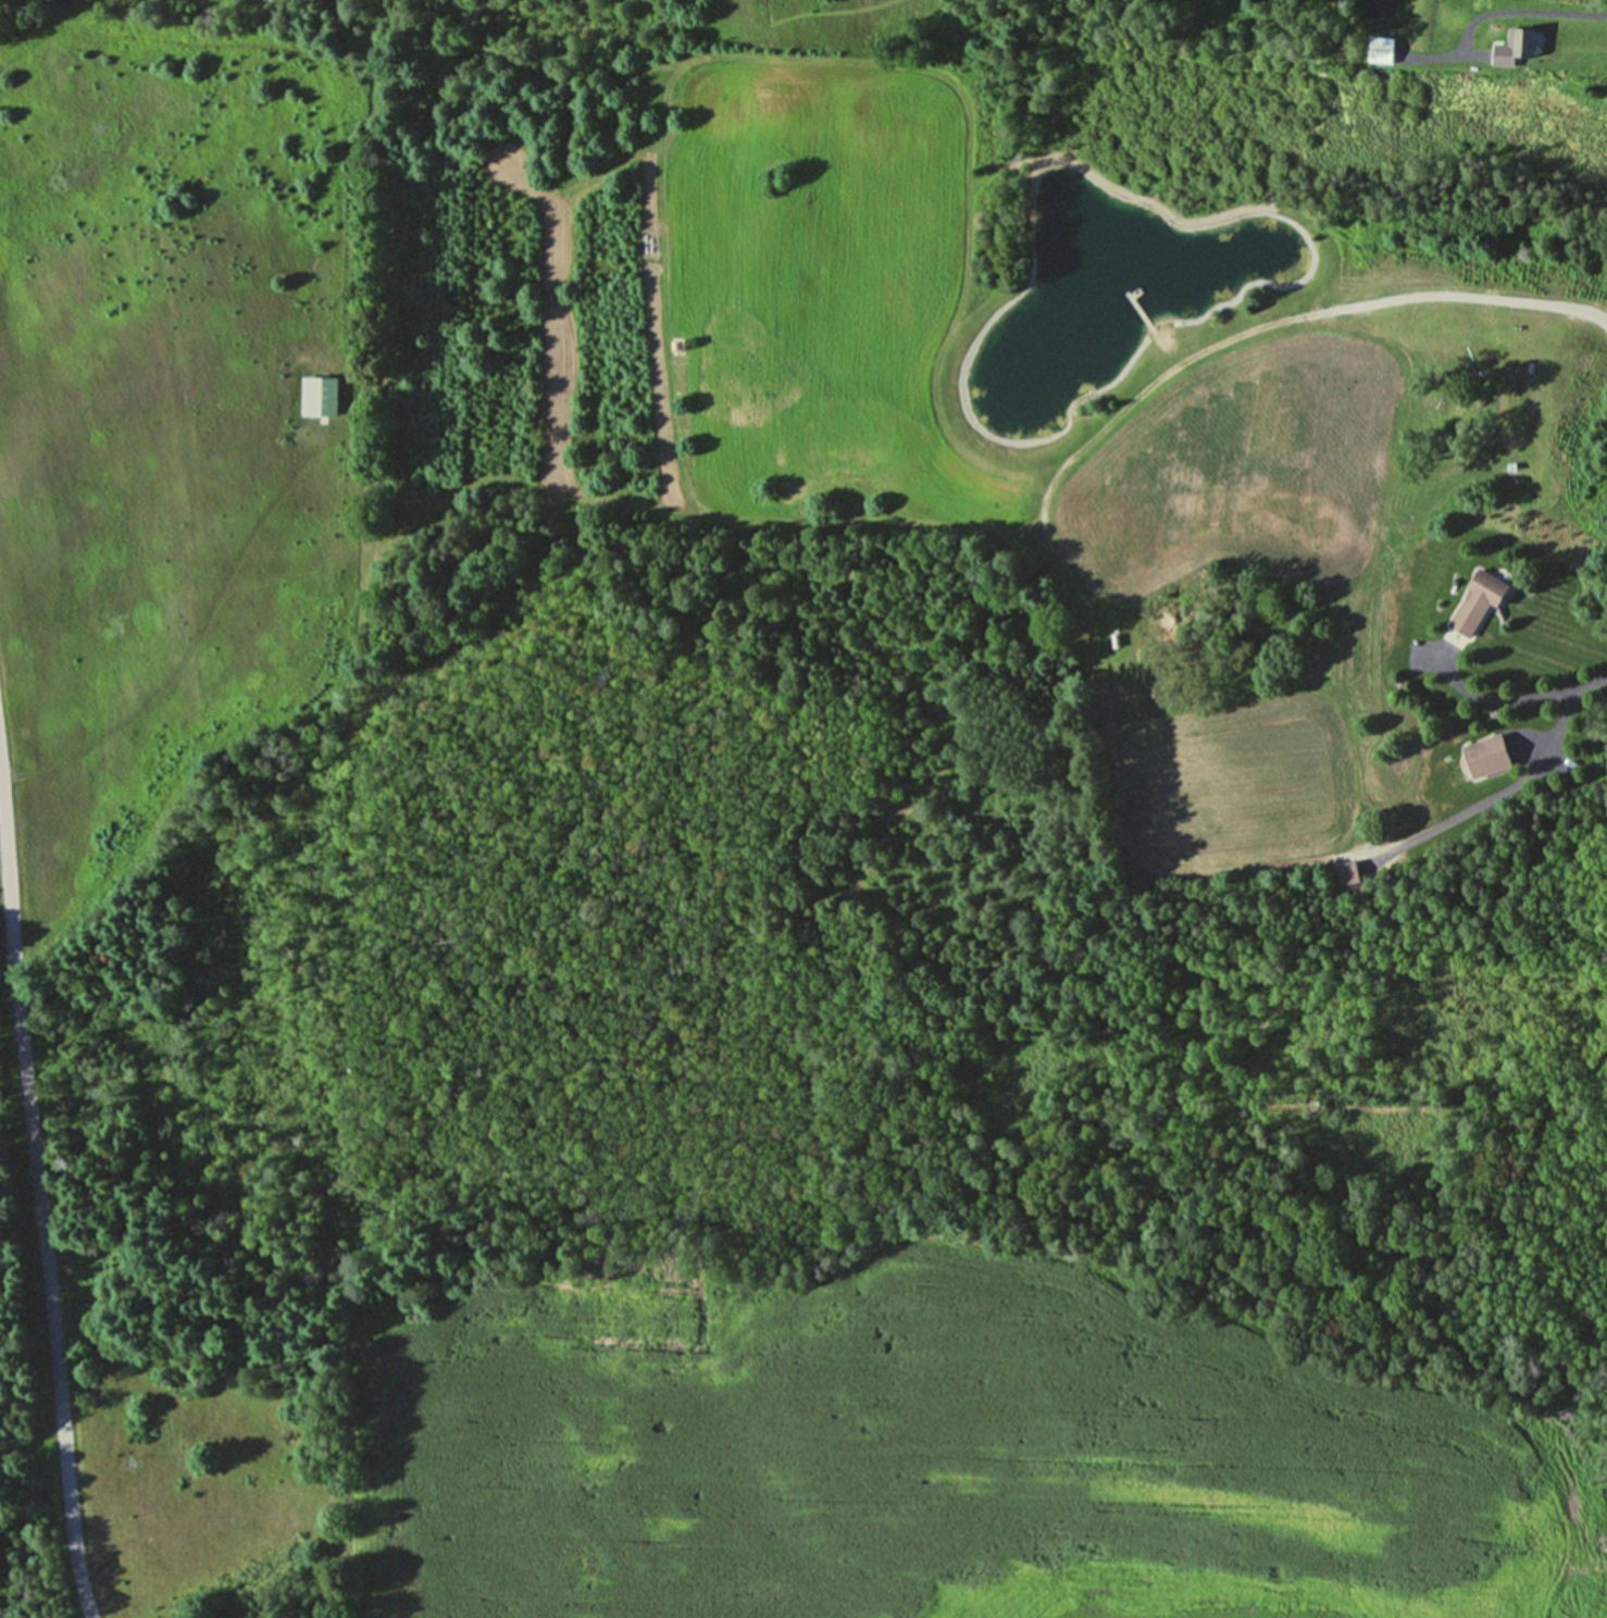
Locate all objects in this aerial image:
road: (1552, 12)
building: (1378, 49)
building: (1505, 49)
building: (315, 395)
building: (1471, 605)
road: (1517, 699)
building: (1482, 757)
road: (43, 1197)

